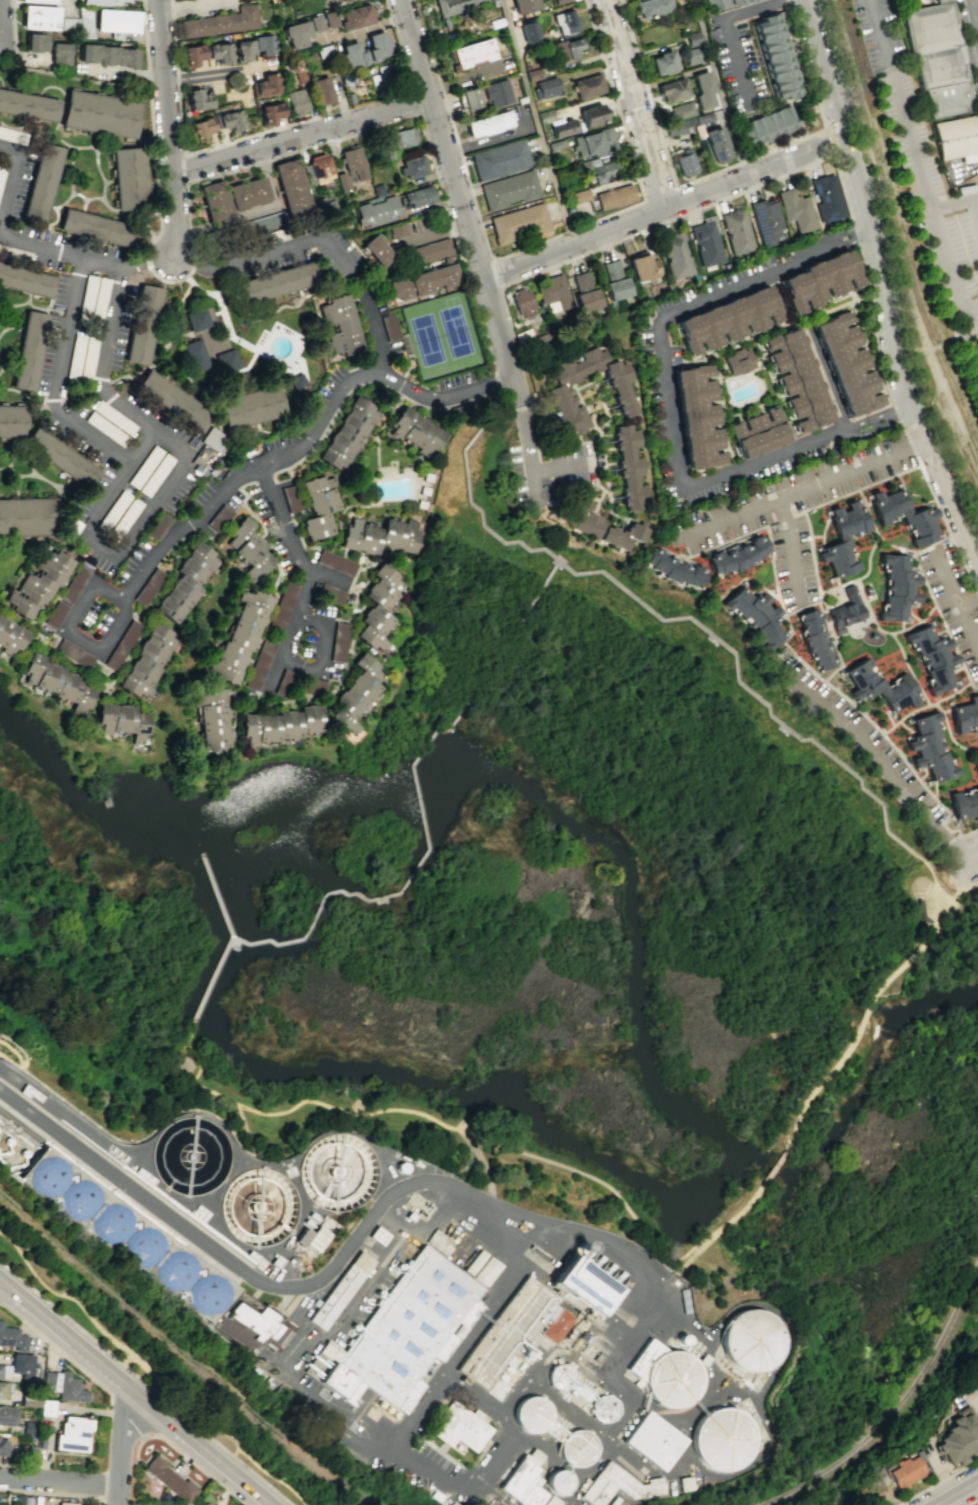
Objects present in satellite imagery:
building: (344, 0)
building: (38, 1)
building: (557, 1)
parking lot: (899, 1)
building: (103, 2)
building: (717, 3)
parking lot: (921, 4)
road: (194, 5)
building: (455, 5)
building: (523, 5)
building: (651, 7)
road: (754, 8)
road: (1, 9)
road: (170, 9)
building: (356, 16)
building: (39, 17)
building: (329, 19)
building: (116, 20)
road: (973, 20)
road: (4, 22)
building: (219, 22)
building: (564, 22)
road: (13, 28)
building: (300, 31)
building: (528, 31)
building: (692, 38)
road: (397, 41)
building: (35, 42)
building: (263, 45)
building: (567, 48)
building: (242, 50)
building: (364, 50)
building: (218, 52)
building: (59, 53)
building: (471, 53)
building: (106, 55)
building: (191, 55)
building: (691, 55)
railway: (856, 56)
building: (775, 57)
road: (735, 58)
building: (941, 60)
road: (966, 61)
building: (662, 62)
parking lot: (737, 66)
building: (297, 71)
road: (212, 74)
building: (381, 77)
road: (176, 82)
building: (264, 85)
building: (587, 86)
building: (545, 87)
building: (702, 89)
building: (321, 90)
building: (672, 90)
building: (496, 93)
building: (469, 98)
road: (412, 99)
building: (197, 100)
building: (296, 101)
road: (632, 104)
building: (28, 105)
building: (680, 110)
building: (269, 113)
building: (591, 114)
building: (99, 115)
building: (229, 120)
road: (319, 122)
road: (538, 122)
building: (487, 123)
building: (680, 125)
road: (169, 126)
building: (200, 127)
building: (766, 127)
road: (835, 129)
road: (302, 134)
building: (12, 135)
road: (247, 136)
building: (403, 137)
building: (958, 140)
building: (593, 142)
building: (717, 144)
railway: (873, 152)
building: (500, 160)
building: (352, 162)
road: (920, 162)
building: (685, 163)
parking lot: (921, 165)
road: (243, 166)
road: (186, 167)
building: (412, 167)
building: (316, 169)
building: (599, 169)
road: (723, 170)
building: (1, 175)
road: (11, 176)
building: (129, 178)
building: (341, 181)
building: (42, 183)
building: (290, 187)
road: (454, 189)
building: (509, 190)
building: (247, 192)
building: (579, 195)
road: (659, 195)
building: (416, 196)
building: (614, 196)
building: (826, 197)
building: (214, 201)
road: (957, 207)
road: (662, 209)
road: (976, 209)
building: (375, 210)
building: (795, 210)
road: (676, 218)
building: (765, 220)
building: (518, 222)
building: (97, 227)
park: (924, 229)
building: (396, 230)
road: (842, 232)
road: (320, 236)
road: (539, 242)
road: (846, 242)
building: (705, 243)
building: (376, 250)
building: (431, 250)
road: (911, 252)
building: (14, 253)
building: (675, 255)
road: (86, 260)
building: (642, 266)
building: (611, 269)
road: (497, 273)
building: (821, 276)
building: (26, 282)
building: (274, 282)
building: (422, 282)
building: (616, 288)
road: (876, 288)
building: (584, 292)
building: (553, 293)
building: (86, 296)
building: (99, 298)
building: (522, 303)
building: (729, 316)
building: (196, 318)
building: (142, 324)
building: (337, 327)
building: (390, 327)
park: (440, 335)
building: (28, 350)
park: (974, 352)
building: (194, 354)
building: (75, 357)
building: (88, 360)
building: (226, 360)
building: (738, 360)
building: (848, 361)
road: (970, 361)
road: (513, 364)
railway: (947, 373)
building: (797, 377)
road: (824, 377)
road: (60, 379)
building: (296, 380)
road: (99, 382)
road: (512, 387)
road: (944, 389)
road: (462, 391)
building: (559, 396)
building: (172, 399)
building: (251, 408)
building: (458, 411)
building: (309, 413)
building: (697, 413)
building: (113, 417)
road: (485, 419)
building: (12, 421)
road: (900, 422)
building: (105, 429)
building: (414, 430)
building: (756, 430)
building: (346, 434)
road: (671, 434)
building: (213, 439)
road: (143, 448)
road: (526, 448)
building: (59, 456)
building: (144, 467)
road: (553, 467)
building: (626, 469)
building: (155, 475)
building: (426, 477)
building: (423, 490)
road: (805, 492)
building: (290, 498)
road: (212, 500)
building: (419, 504)
building: (318, 505)
building: (426, 506)
building: (113, 511)
building: (906, 515)
building: (27, 516)
building: (219, 517)
building: (124, 519)
building: (157, 525)
road: (484, 527)
building: (603, 528)
building: (378, 535)
building: (844, 537)
building: (247, 548)
road: (794, 549)
building: (738, 555)
road: (115, 556)
building: (335, 562)
building: (674, 567)
road: (303, 575)
building: (185, 581)
building: (38, 582)
building: (73, 584)
building: (149, 586)
building: (898, 587)
building: (329, 593)
road: (957, 600)
parking lot: (953, 601)
building: (281, 606)
building: (377, 607)
road: (970, 608)
building: (846, 609)
building: (55, 614)
building: (756, 615)
road: (118, 626)
building: (840, 630)
building: (10, 636)
building: (238, 636)
building: (815, 640)
building: (338, 641)
building: (122, 644)
building: (74, 653)
road: (321, 654)
building: (933, 658)
building: (147, 660)
building: (259, 664)
building: (284, 682)
building: (57, 683)
road: (743, 685)
building: (312, 686)
building: (879, 686)
building: (354, 696)
building: (965, 715)
building: (210, 719)
building: (121, 720)
building: (278, 724)
building: (930, 749)
road: (875, 758)
building: (976, 766)
building: (964, 805)
road: (943, 851)
road: (420, 856)
road: (970, 858)
road: (961, 878)
road: (934, 884)
road: (867, 1007)
road: (200, 1008)
road: (142, 1136)
road: (502, 1146)
building: (190, 1155)
storage tank: (190, 1155)
road: (478, 1161)
road: (772, 1167)
building: (337, 1172)
storage tank: (337, 1172)
building: (48, 1175)
storage tank: (48, 1175)
building: (80, 1198)
storage tank: (80, 1198)
building: (258, 1205)
storage tank: (258, 1205)
building: (112, 1222)
storage tank: (112, 1222)
building: (380, 1236)
building: (144, 1246)
storage tank: (144, 1246)
road: (691, 1254)
building: (476, 1262)
building: (176, 1270)
storage tank: (176, 1270)
building: (488, 1271)
road: (251, 1273)
building: (584, 1282)
building: (342, 1290)
building: (208, 1294)
storage tank: (208, 1294)
wastewater plant: (424, 1314)
building: (262, 1325)
building: (556, 1325)
building: (403, 1335)
wastewater plant: (523, 1335)
building: (11, 1338)
building: (752, 1339)
storage tank: (752, 1339)
road: (55, 1349)
road: (192, 1351)
park: (144, 1354)
railway: (184, 1356)
building: (17, 1366)
road: (149, 1369)
building: (560, 1375)
storage tank: (560, 1375)
building: (670, 1379)
storage tank: (670, 1379)
road: (145, 1384)
building: (62, 1385)
building: (2, 1390)
road: (523, 1391)
road: (134, 1392)
building: (46, 1407)
building: (603, 1408)
storage tank: (603, 1408)
railway: (897, 1411)
building: (531, 1413)
storage tank: (531, 1413)
building: (7, 1414)
road: (134, 1415)
building: (27, 1427)
building: (461, 1428)
building: (72, 1433)
road: (865, 1434)
building: (722, 1438)
storage tank: (722, 1438)
building: (957, 1439)
building: (654, 1441)
building: (41, 1443)
building: (3, 1446)
building: (576, 1447)
storage tank: (576, 1447)
road: (122, 1450)
road: (233, 1451)
building: (30, 1454)
road: (182, 1455)
building: (536, 1456)
road: (23, 1464)
building: (903, 1470)
building: (520, 1478)
building: (168, 1479)
building: (558, 1480)
storage tank: (558, 1480)
road: (937, 1481)
road: (60, 1482)
building: (619, 1486)
road: (953, 1491)
road: (52, 1494)
building: (533, 1494)
building: (22, 1499)
park: (859, 1499)
building: (554, 1501)
road: (971, 1501)
building: (66, 1503)
building: (2, 1504)
building: (204, 1504)

